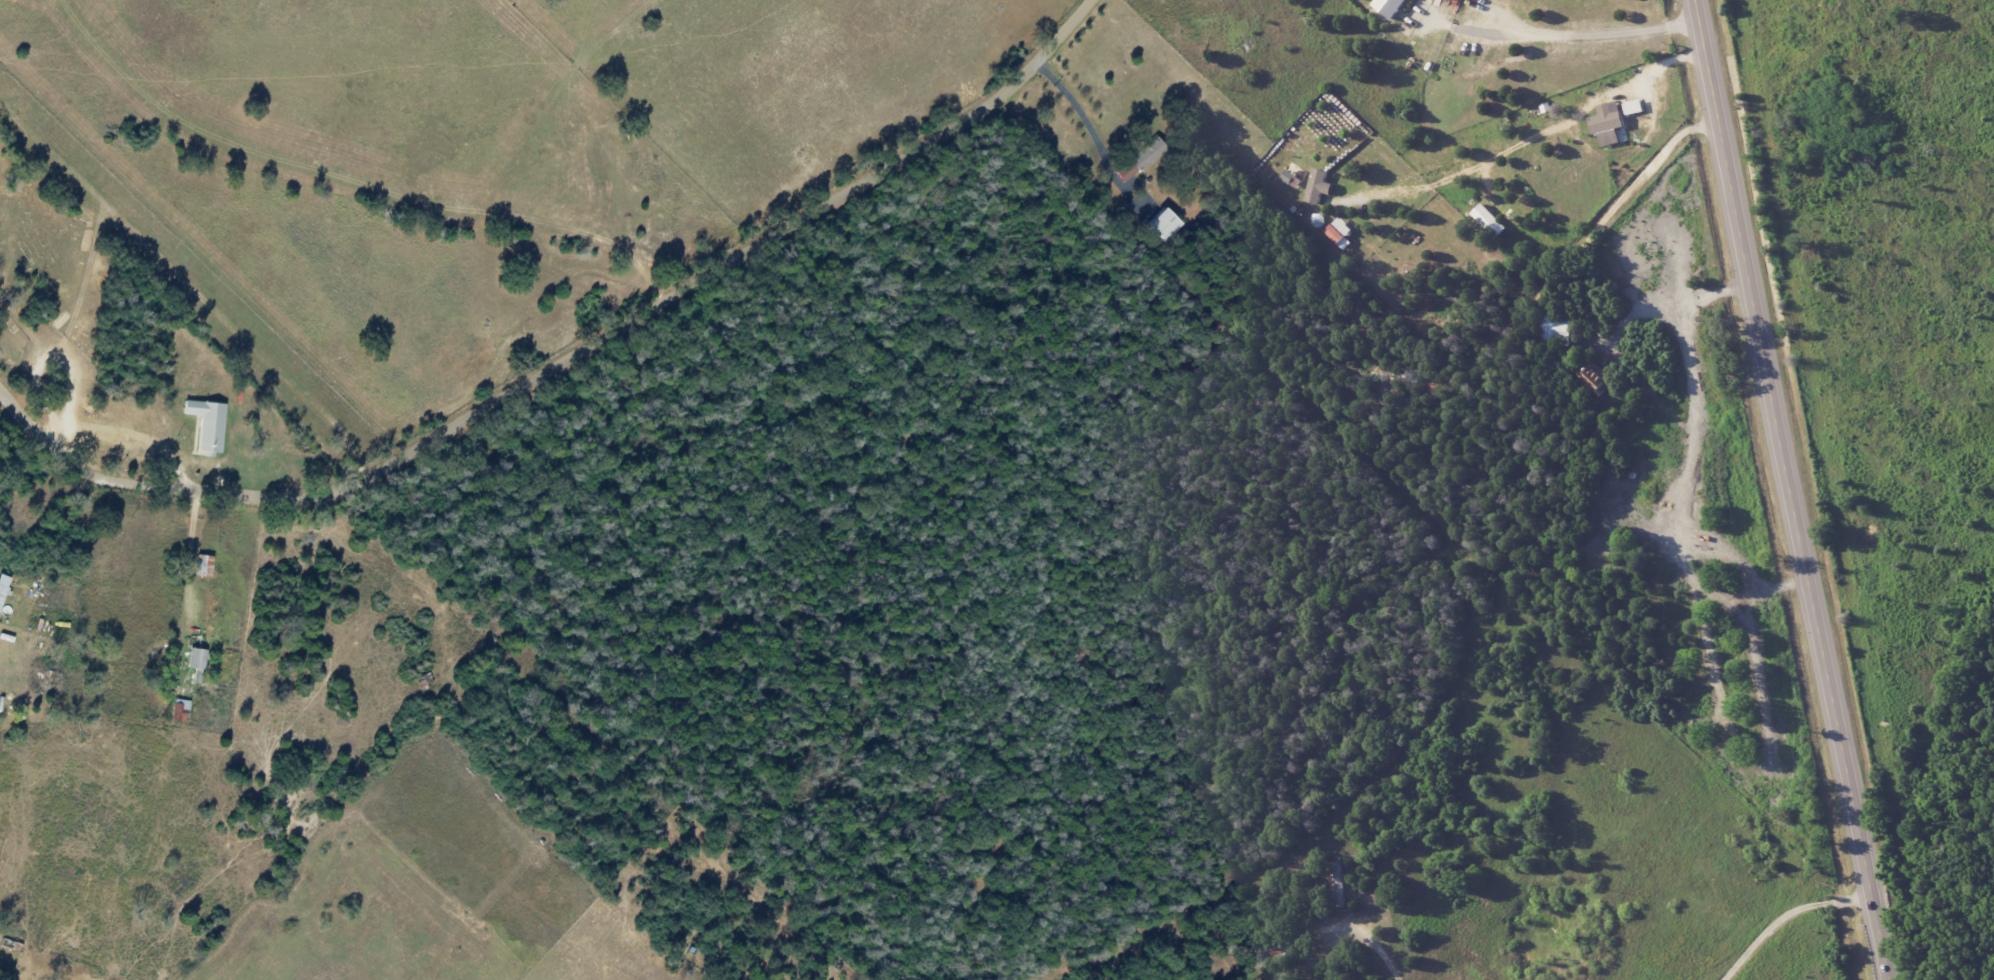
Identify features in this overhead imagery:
building: (1389, 7)
road: (1594, 48)
building: (1634, 107)
road: (1081, 118)
building: (1608, 124)
road: (1542, 151)
building: (1141, 160)
building: (1287, 177)
building: (1318, 186)
road: (1623, 204)
building: (1489, 221)
building: (1165, 224)
park: (59, 229)
building: (1338, 233)
building: (1555, 328)
road: (567, 361)
building: (1591, 378)
building: (209, 425)
road: (1788, 490)
road: (192, 558)
building: (3, 587)
building: (197, 663)
building: (180, 710)
road: (1677, 713)
building: (1339, 884)
road: (1782, 915)
road: (1375, 934)
building: (1276, 950)

